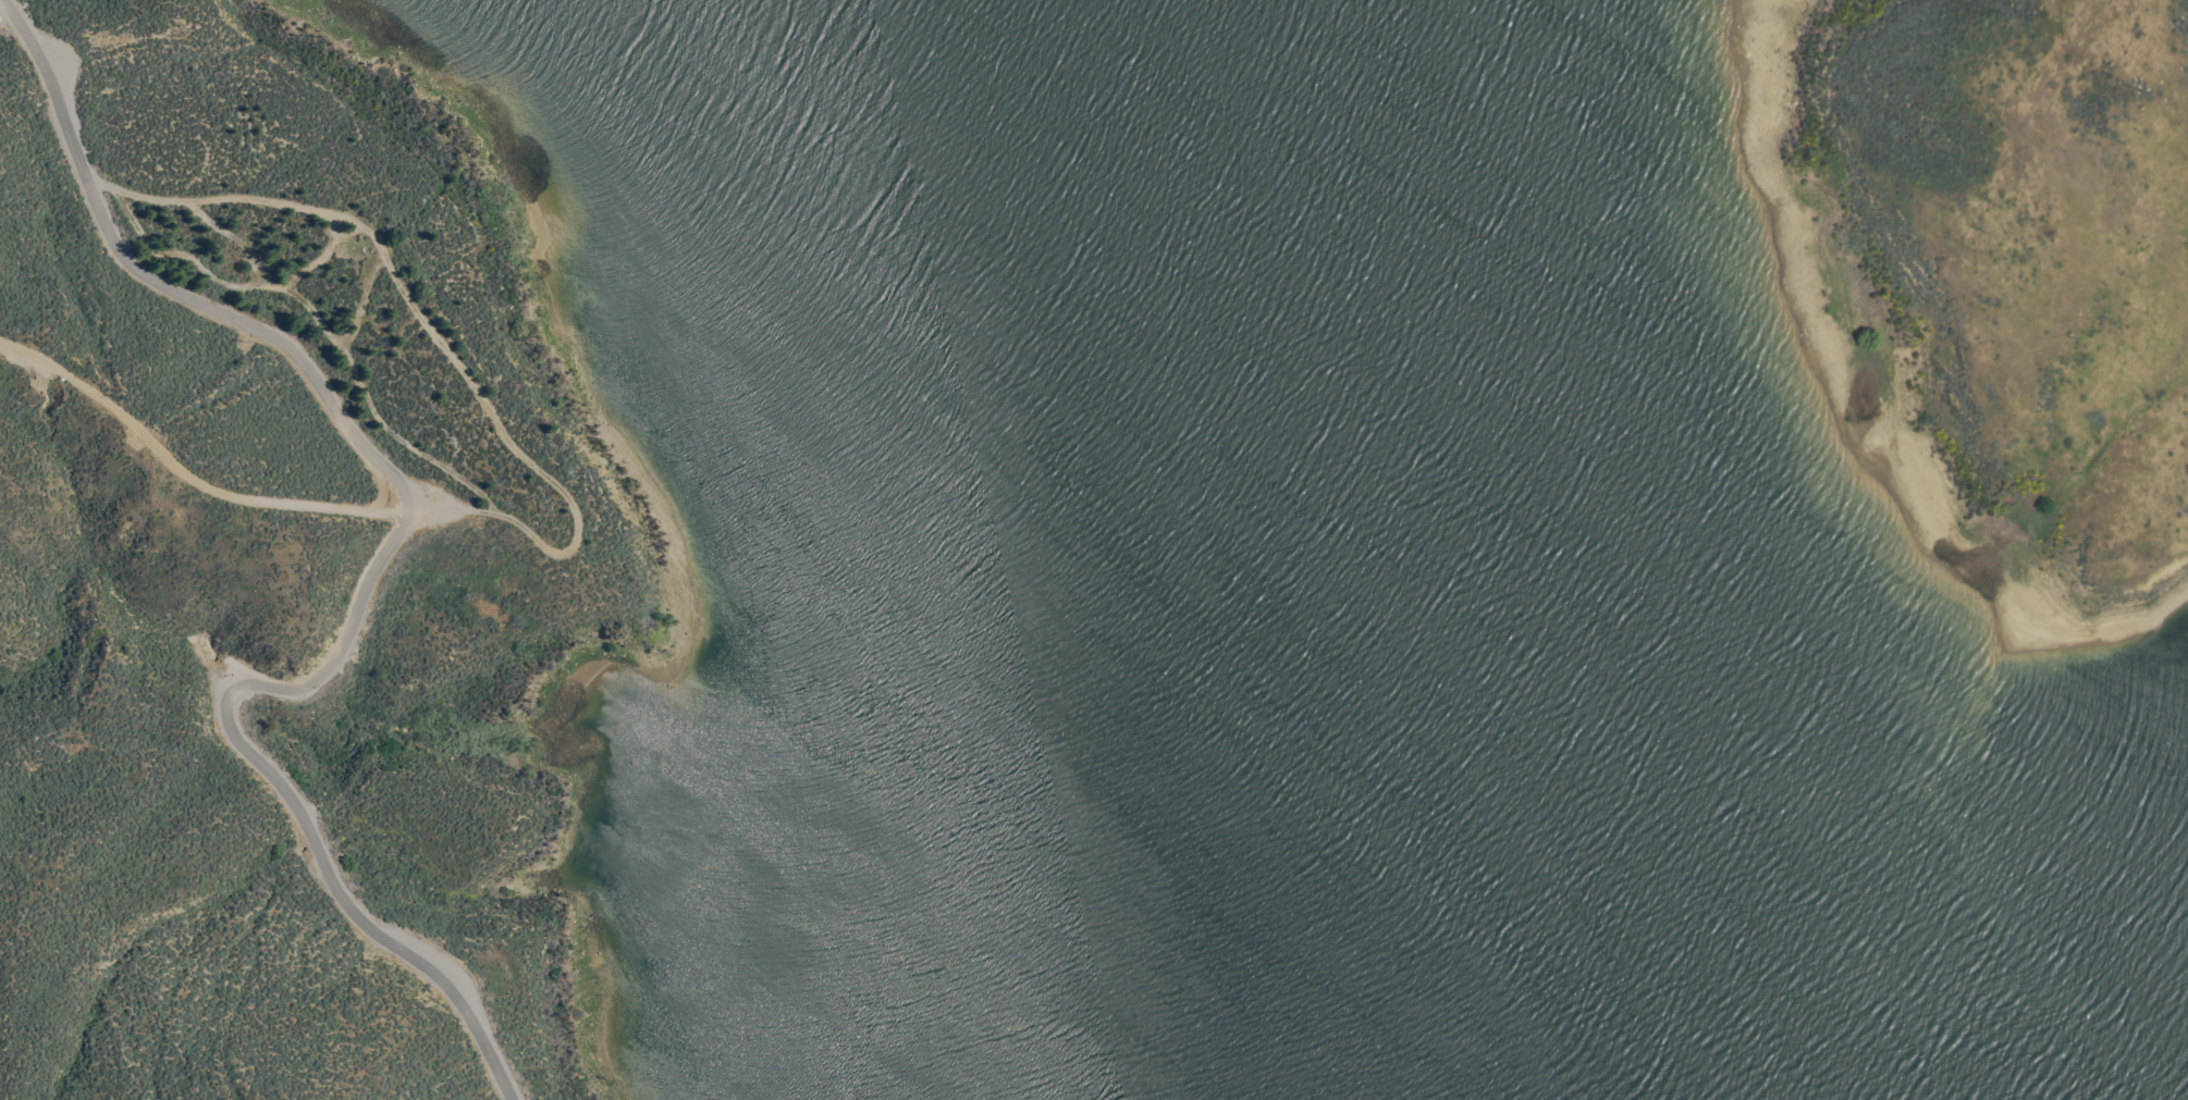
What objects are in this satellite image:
road: (392, 555)

